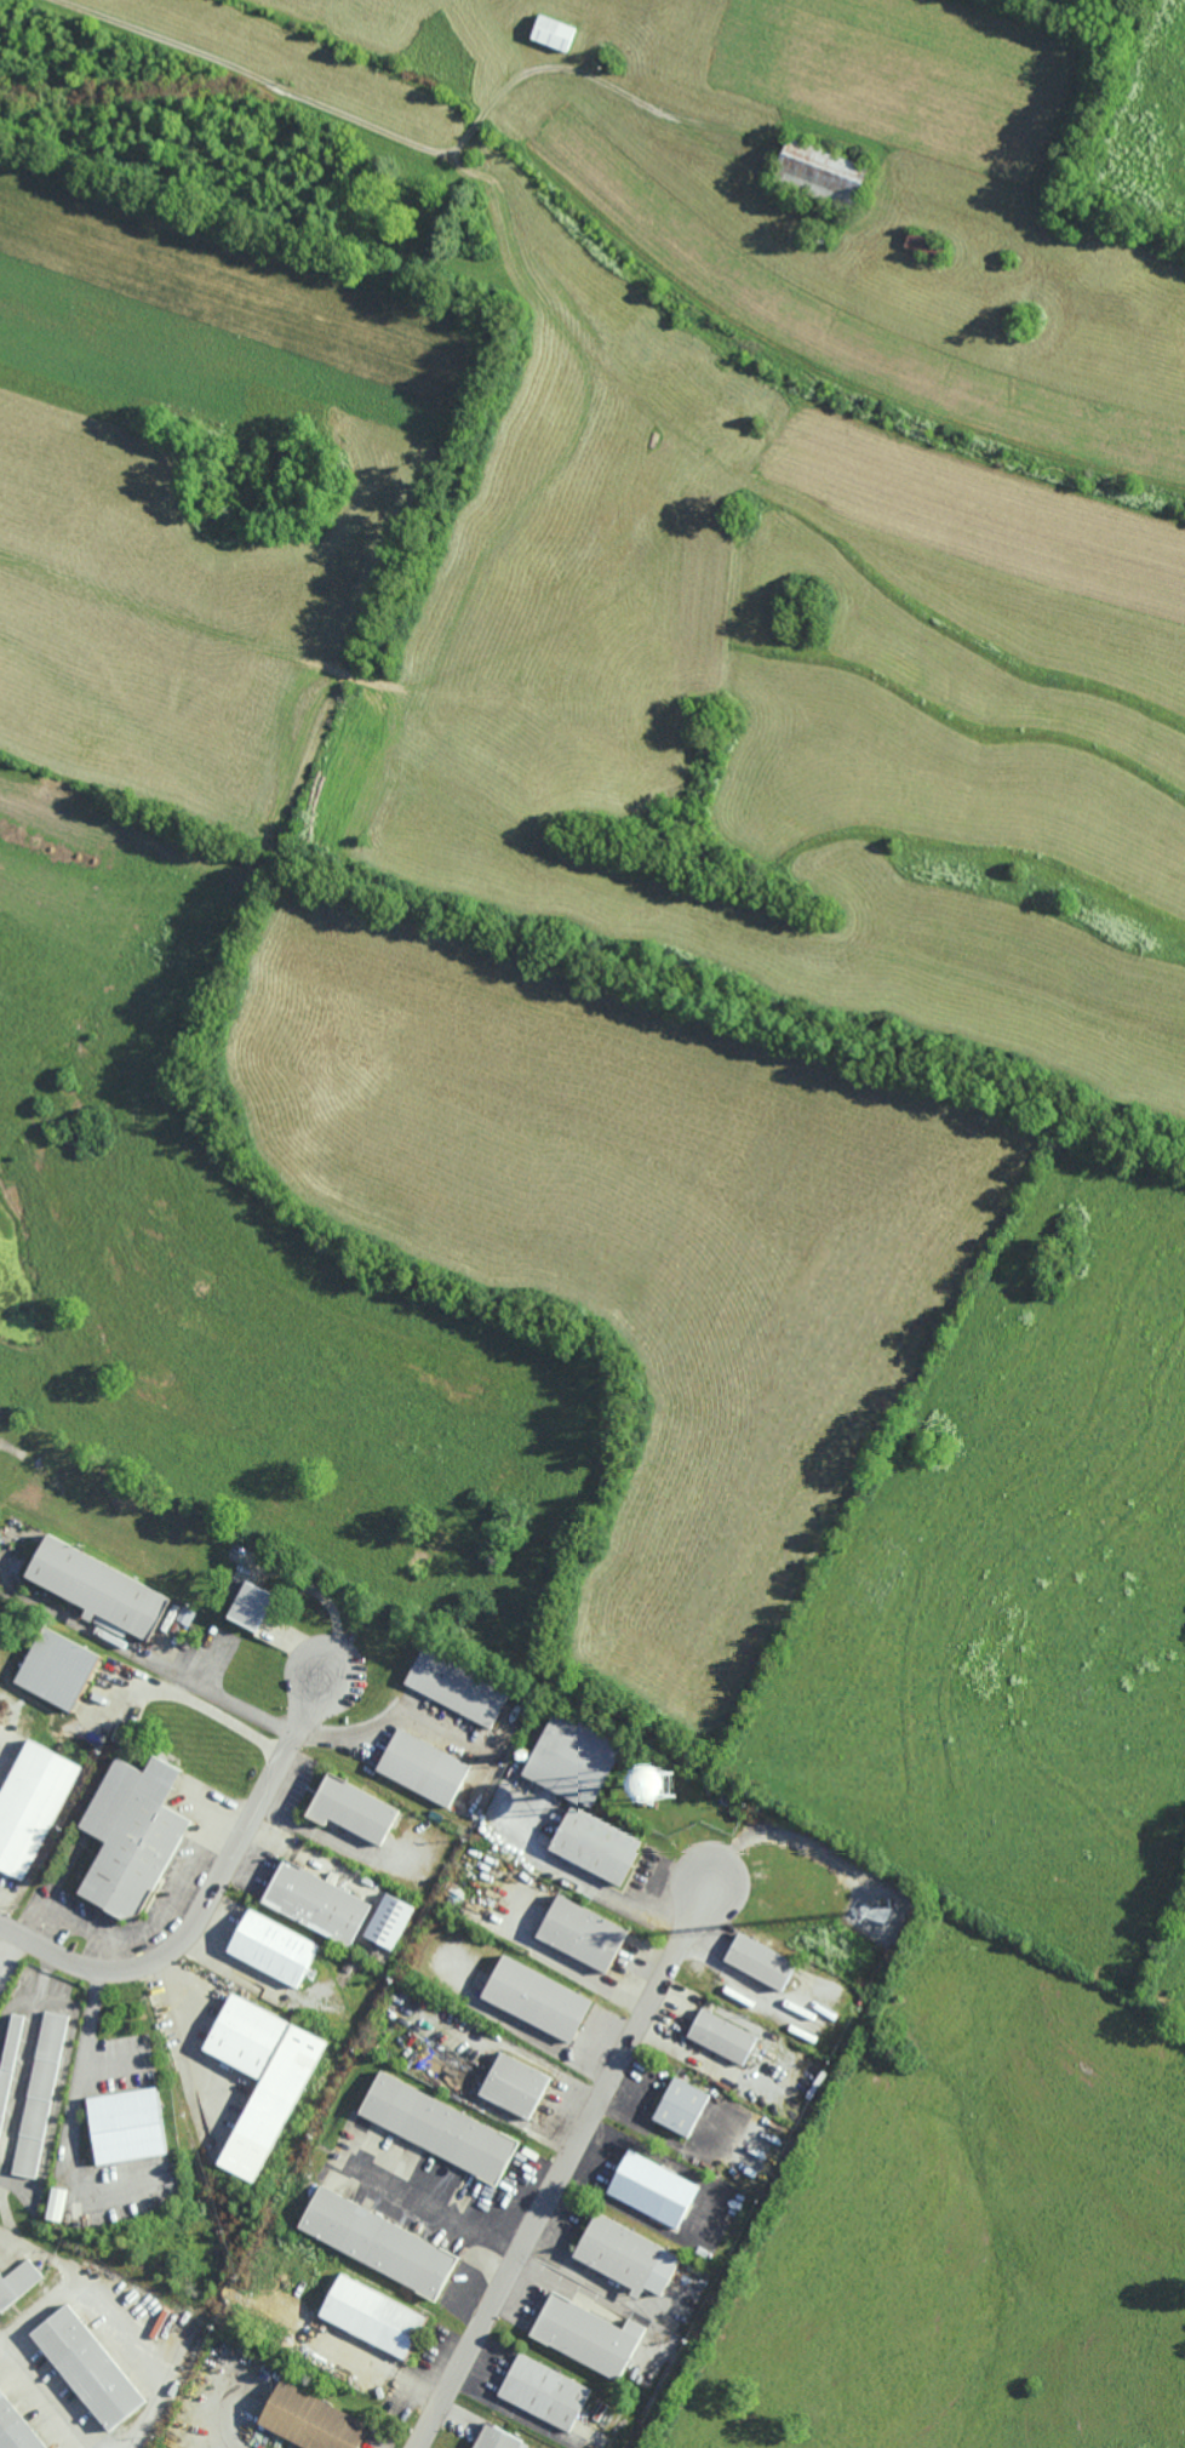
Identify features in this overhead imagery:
building: (553, 33)
road: (416, 143)
building: (822, 171)
building: (99, 1586)
building: (252, 1606)
building: (57, 1669)
road: (178, 1677)
building: (457, 1687)
road: (194, 1704)
building: (574, 1760)
building: (423, 1767)
water tower: (654, 1786)
building: (660, 1786)
building: (30, 1804)
building: (353, 1809)
building: (132, 1835)
building: (596, 1846)
road: (607, 1893)
road: (210, 1895)
building: (316, 1901)
building: (390, 1921)
building: (583, 1933)
building: (274, 1946)
building: (761, 1961)
road: (599, 1984)
building: (537, 1998)
road: (526, 2032)
building: (722, 2036)
building: (16, 2061)
building: (263, 2077)
building: (515, 2084)
building: (40, 2094)
building: (681, 2106)
road: (69, 2117)
building: (127, 2124)
building: (439, 2127)
road: (563, 2164)
building: (653, 2189)
road: (446, 2203)
building: (378, 2242)
building: (628, 2255)
building: (17, 2282)
building: (373, 2316)
road: (111, 2327)
building: (588, 2335)
building: (88, 2367)
building: (544, 2391)
road: (42, 2398)
road: (224, 2419)
building: (311, 2420)
building: (16, 2427)
building: (496, 2438)

